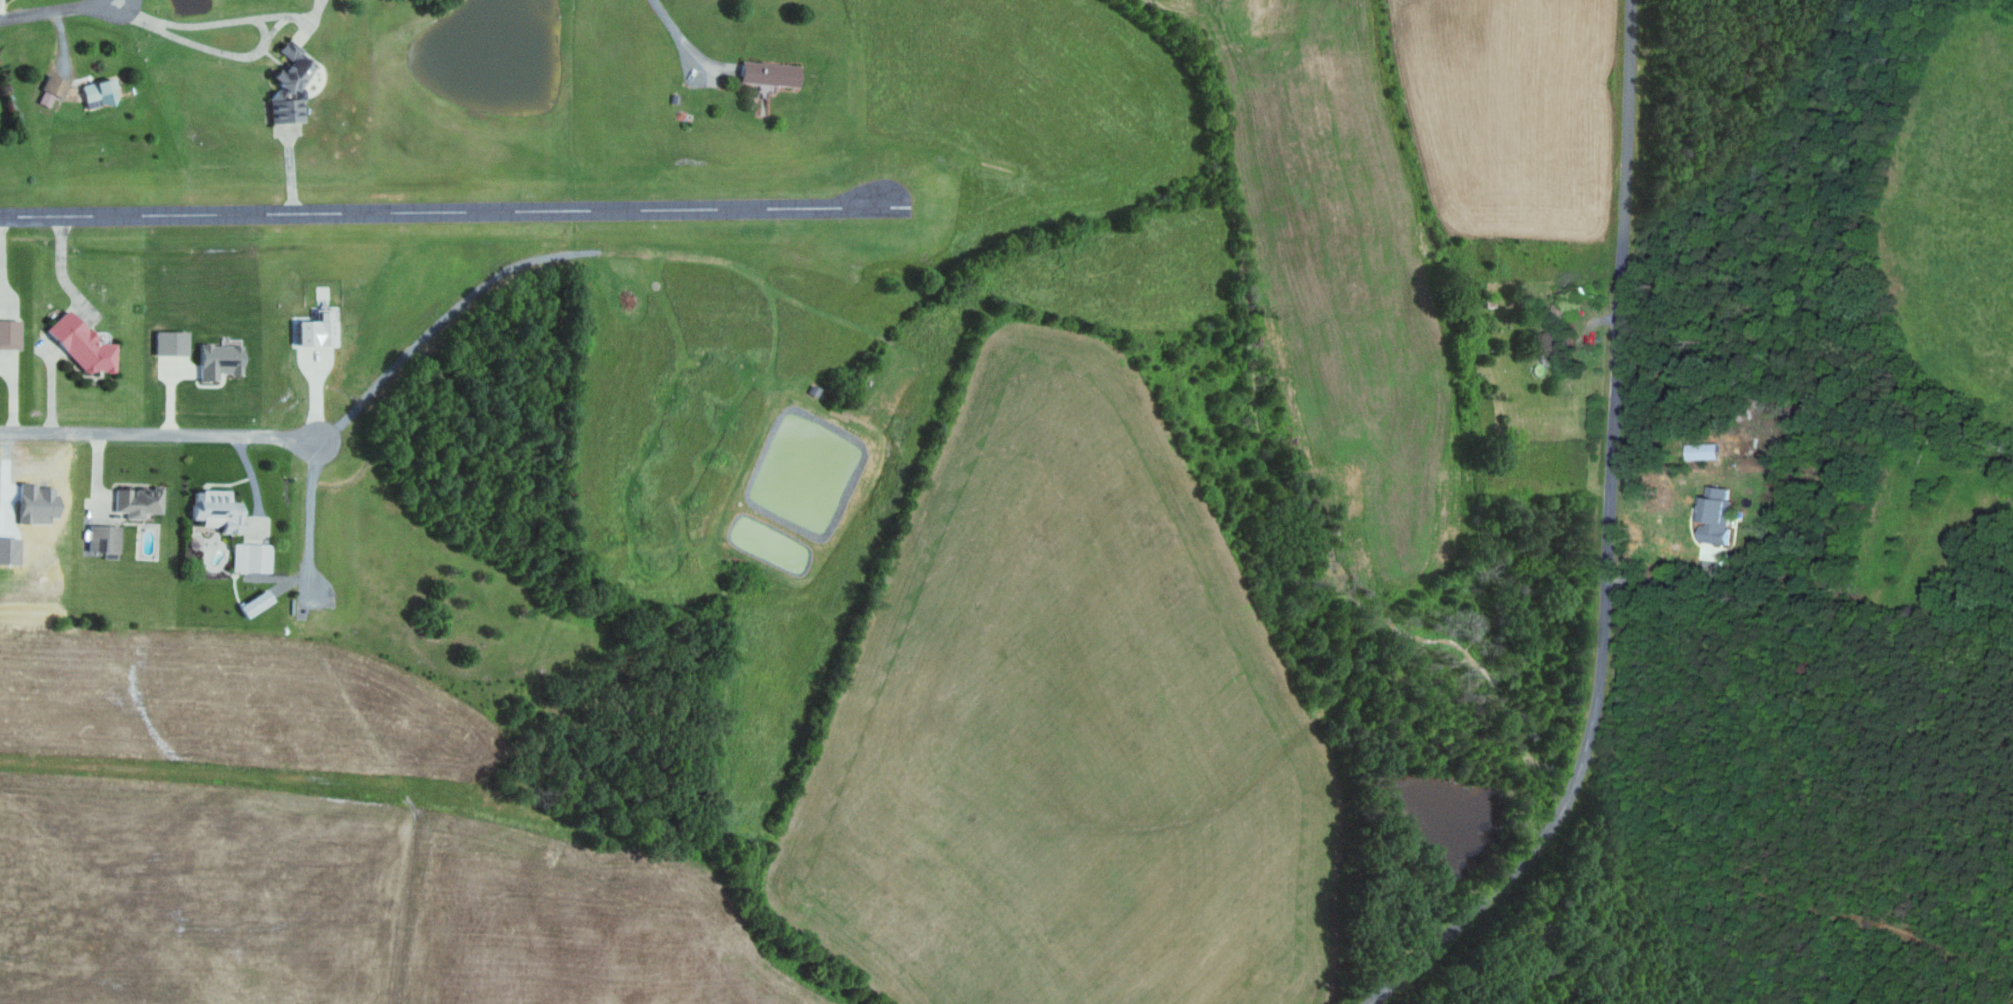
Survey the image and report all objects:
road: (93, 2)
road: (318, 3)
road: (321, 3)
road: (46, 10)
road: (115, 12)
road: (287, 15)
road: (689, 44)
road: (261, 49)
building: (772, 74)
building: (292, 85)
building: (53, 89)
building: (101, 93)
airport taxiway: (289, 173)
airport runway: (453, 211)
airport taxiway: (60, 265)
building: (321, 330)
building: (10, 334)
building: (173, 342)
building: (84, 343)
building: (1558, 350)
building: (222, 361)
road: (51, 382)
road: (157, 433)
building: (140, 501)
building: (220, 510)
building: (1719, 513)
road: (309, 534)
building: (105, 538)
road: (1616, 547)
building: (253, 557)
road: (1674, 582)
building: (259, 603)

